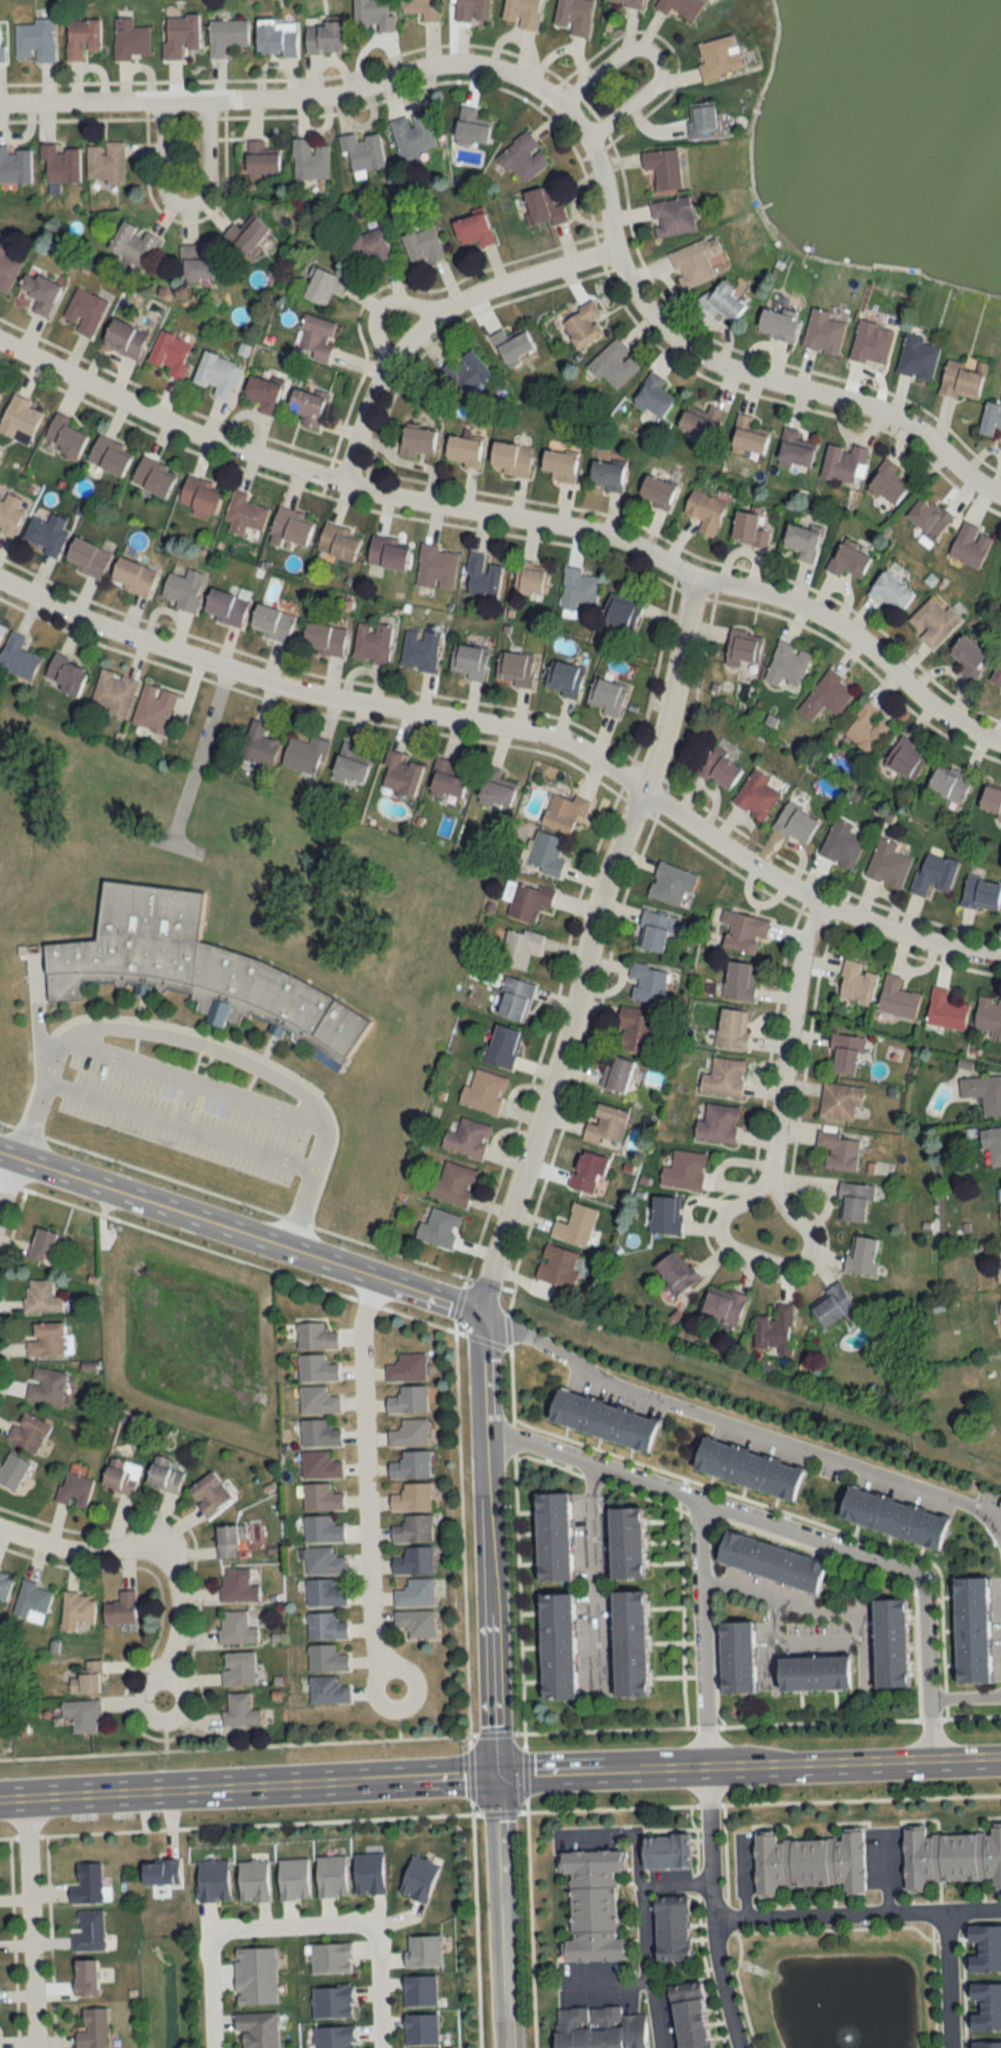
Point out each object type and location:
building: (628, 2)
building: (680, 8)
building: (421, 9)
building: (472, 11)
building: (521, 13)
building: (372, 15)
building: (573, 16)
building: (179, 35)
building: (225, 35)
building: (82, 38)
building: (324, 38)
building: (129, 39)
building: (276, 39)
building: (34, 41)
building: (1, 53)
road: (653, 55)
building: (717, 58)
building: (701, 120)
building: (470, 128)
road: (577, 132)
building: (411, 135)
building: (362, 152)
building: (522, 158)
building: (309, 160)
building: (260, 161)
building: (105, 162)
building: (60, 163)
building: (14, 166)
building: (662, 170)
road: (186, 206)
building: (542, 207)
building: (672, 216)
building: (473, 230)
building: (247, 237)
building: (131, 243)
building: (422, 246)
building: (369, 248)
building: (694, 261)
building: (196, 264)
building: (7, 271)
building: (322, 286)
building: (39, 292)
building: (723, 301)
building: (85, 312)
road: (429, 318)
building: (774, 323)
building: (582, 324)
building: (823, 332)
building: (314, 337)
building: (124, 338)
building: (871, 342)
building: (511, 345)
building: (169, 354)
building: (917, 357)
building: (614, 364)
building: (466, 372)
building: (218, 374)
building: (961, 380)
building: (0, 386)
building: (262, 393)
building: (652, 396)
building: (306, 406)
building: (19, 418)
building: (990, 418)
building: (699, 421)
building: (66, 436)
building: (747, 438)
building: (416, 441)
building: (794, 448)
building: (463, 450)
building: (109, 454)
building: (510, 458)
building: (843, 463)
building: (558, 465)
building: (606, 474)
building: (152, 475)
building: (887, 482)
building: (655, 490)
building: (199, 494)
building: (704, 511)
building: (10, 512)
building: (243, 514)
building: (928, 517)
road: (514, 519)
building: (292, 525)
building: (748, 529)
building: (45, 533)
building: (338, 541)
building: (801, 541)
building: (969, 544)
building: (388, 552)
building: (86, 557)
building: (848, 560)
building: (436, 567)
building: (132, 576)
building: (481, 576)
building: (532, 577)
building: (183, 589)
building: (579, 590)
building: (890, 592)
building: (224, 605)
building: (621, 610)
building: (932, 621)
building: (271, 622)
building: (1, 628)
building: (323, 639)
building: (371, 642)
building: (742, 647)
building: (419, 650)
building: (967, 655)
building: (17, 656)
building: (468, 661)
building: (787, 666)
building: (516, 668)
building: (997, 673)
building: (66, 674)
building: (563, 678)
building: (113, 693)
road: (318, 694)
building: (826, 695)
building: (605, 696)
building: (154, 708)
building: (867, 728)
building: (259, 745)
building: (304, 755)
building: (905, 758)
building: (349, 765)
building: (720, 769)
building: (399, 774)
building: (446, 781)
building: (948, 783)
building: (495, 789)
building: (756, 796)
building: (991, 800)
building: (564, 811)
building: (795, 823)
building: (841, 844)
building: (545, 853)
building: (887, 864)
building: (934, 873)
building: (671, 883)
building: (981, 894)
road: (810, 896)
building: (528, 901)
building: (654, 931)
building: (745, 933)
road: (585, 945)
building: (519, 947)
building: (196, 970)
building: (740, 980)
building: (647, 983)
building: (856, 983)
building: (897, 998)
building: (514, 999)
building: (945, 1010)
building: (988, 1016)
building: (732, 1029)
building: (636, 1030)
building: (502, 1047)
building: (844, 1053)
road: (44, 1057)
road: (250, 1066)
road: (781, 1066)
building: (616, 1073)
building: (723, 1077)
road: (194, 1081)
building: (484, 1092)
building: (983, 1092)
building: (840, 1101)
road: (185, 1102)
building: (606, 1124)
building: (717, 1124)
road: (181, 1125)
building: (468, 1138)
building: (992, 1146)
building: (839, 1150)
building: (587, 1170)
building: (684, 1170)
road: (5, 1175)
building: (453, 1184)
building: (1000, 1187)
building: (854, 1202)
building: (666, 1215)
building: (576, 1225)
building: (439, 1229)
road: (239, 1233)
building: (48, 1247)
building: (862, 1255)
building: (999, 1265)
building: (557, 1266)
building: (676, 1274)
building: (41, 1297)
building: (723, 1305)
building: (832, 1306)
building: (1000, 1314)
building: (775, 1330)
building: (315, 1337)
building: (47, 1340)
building: (316, 1368)
building: (407, 1368)
building: (46, 1386)
building: (317, 1400)
building: (408, 1400)
road: (457, 1417)
building: (602, 1420)
road: (733, 1424)
building: (28, 1432)
building: (319, 1433)
building: (410, 1433)
building: (320, 1465)
building: (411, 1465)
building: (748, 1469)
building: (12, 1471)
building: (121, 1476)
building: (163, 1476)
road: (364, 1488)
building: (74, 1490)
building: (209, 1494)
building: (321, 1497)
building: (412, 1497)
road: (999, 1517)
building: (893, 1518)
road: (999, 1523)
road: (791, 1528)
building: (322, 1529)
building: (413, 1529)
building: (553, 1537)
building: (229, 1540)
road: (487, 1543)
building: (625, 1543)
road: (151, 1555)
building: (323, 1561)
building: (414, 1561)
building: (770, 1561)
road: (598, 1574)
building: (5, 1585)
building: (237, 1585)
building: (324, 1593)
building: (416, 1593)
building: (32, 1599)
road: (820, 1606)
building: (121, 1609)
building: (76, 1610)
building: (416, 1623)
building: (326, 1626)
building: (236, 1628)
building: (971, 1630)
road: (702, 1631)
road: (770, 1642)
building: (629, 1643)
building: (890, 1643)
building: (557, 1646)
building: (736, 1657)
building: (326, 1658)
building: (238, 1668)
building: (813, 1674)
building: (86, 1679)
building: (328, 1690)
road: (966, 1694)
building: (240, 1710)
building: (83, 1715)
road: (734, 1727)
road: (854, 1762)
road: (600, 1771)
traffic signals: (494, 1775)
road: (264, 1786)
road: (17, 1799)
road: (736, 1804)
road: (599, 1832)
building: (666, 1852)
building: (950, 1858)
building: (809, 1862)
road: (886, 1871)
building: (160, 1872)
road: (745, 1876)
road: (675, 1881)
building: (87, 1884)
building: (592, 1906)
road: (712, 1909)
road: (498, 1911)
road: (856, 1911)
road: (39, 1923)
road: (286, 1926)
building: (89, 1931)
building: (671, 1932)
road: (644, 1940)
building: (985, 1949)
building: (331, 1958)
building: (85, 1977)
road: (950, 1978)
road: (606, 1980)
road: (378, 1985)
road: (211, 1993)
building: (986, 2007)
building: (689, 2019)
building: (598, 2028)
building: (93, 2029)
building: (257, 2030)
building: (987, 2045)

